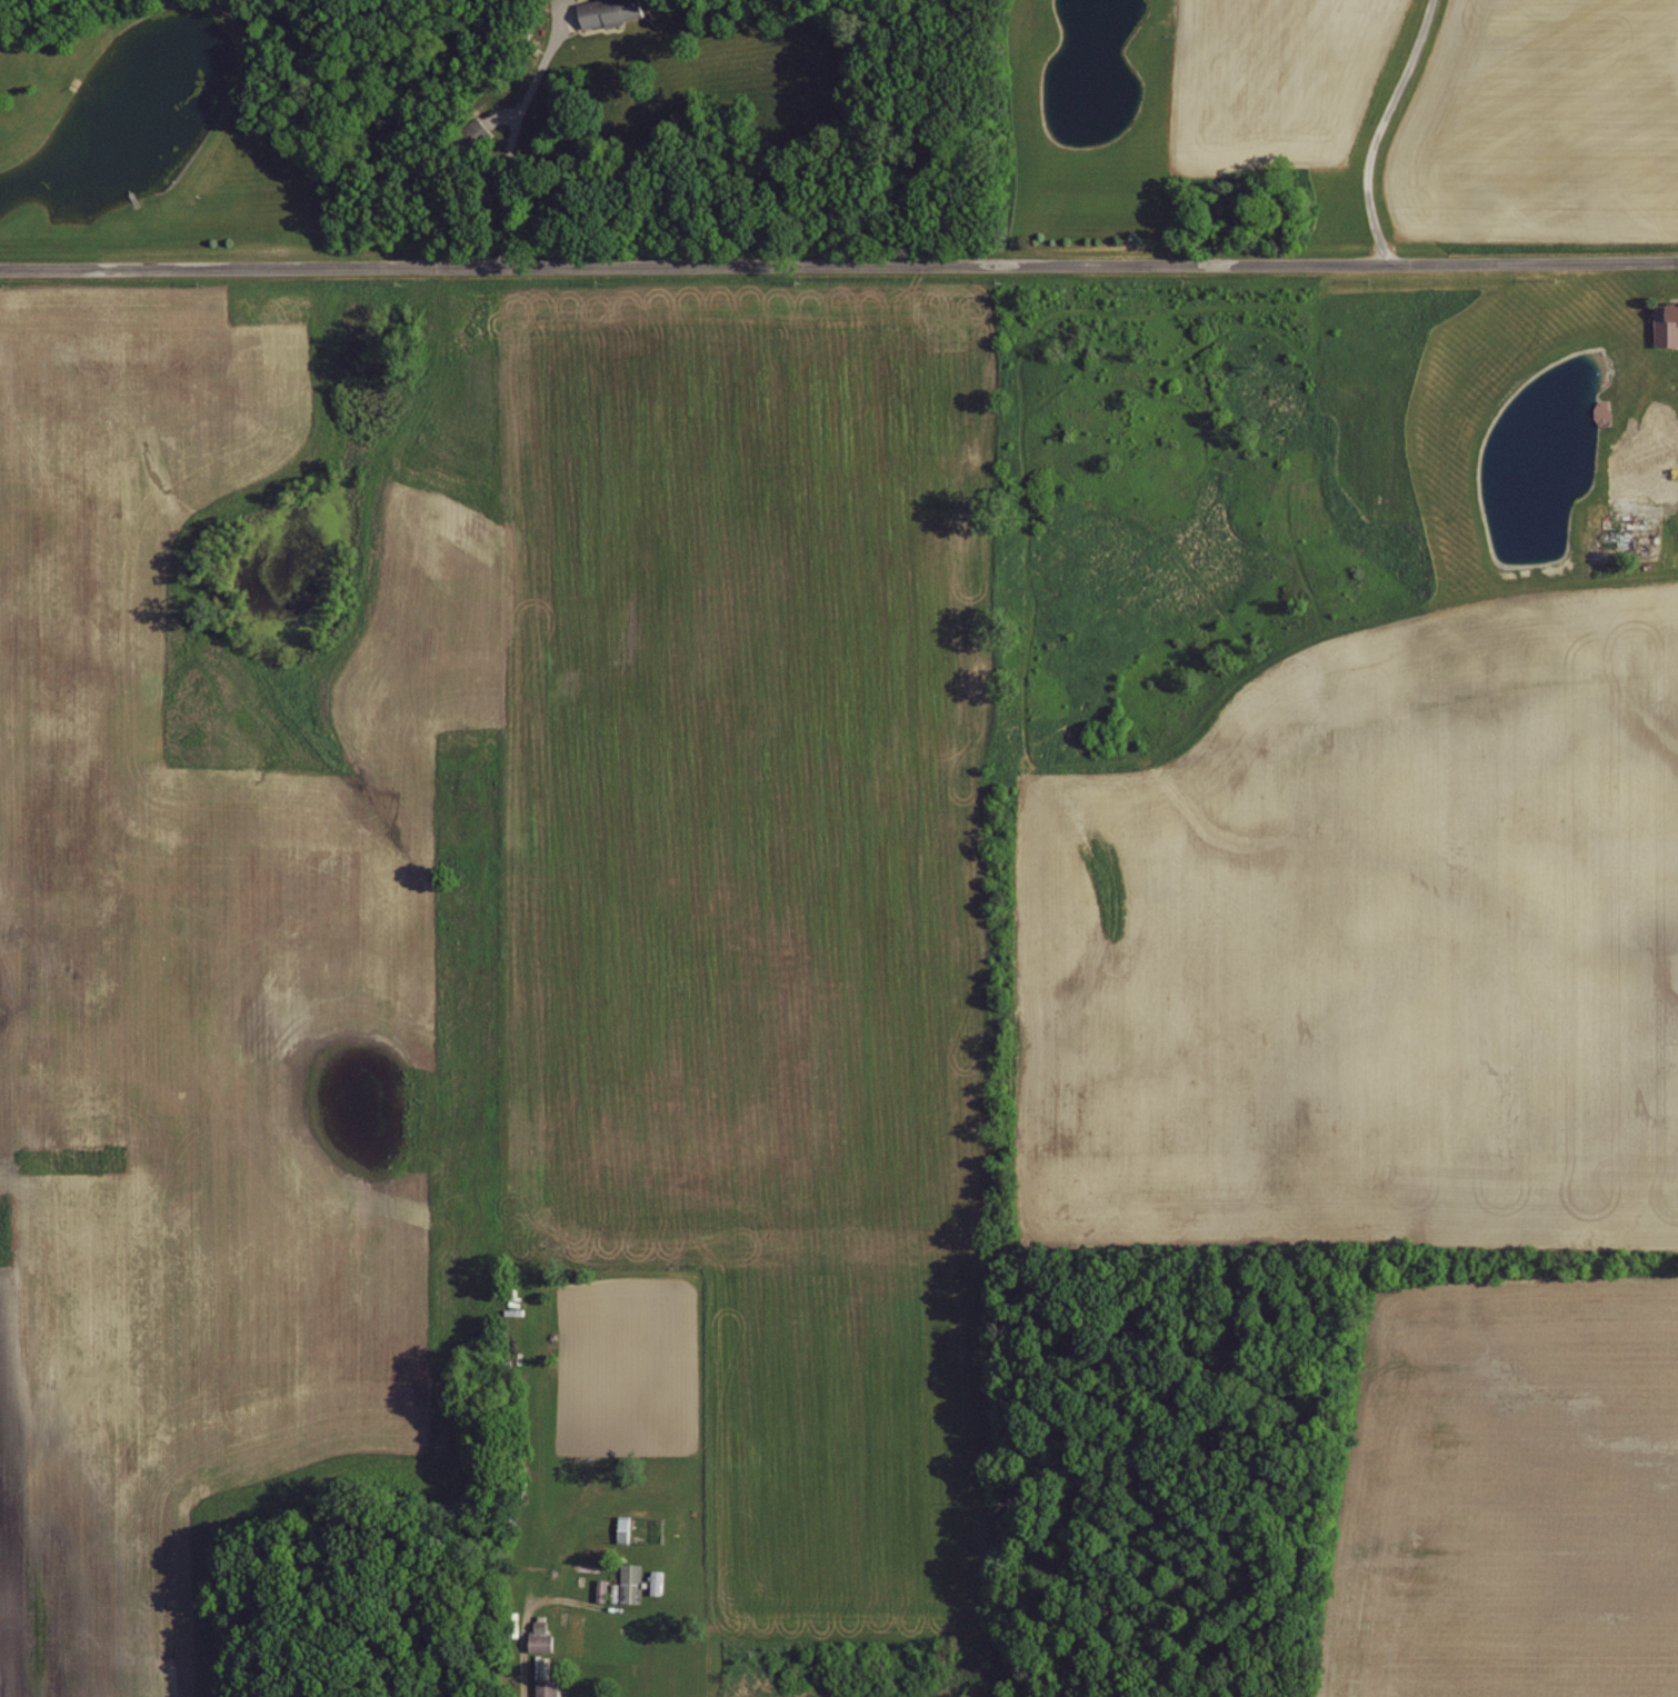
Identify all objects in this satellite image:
road: (838, 267)
crop: (759, 900)
crop: (214, 950)
crop: (1375, 950)
crop: (1506, 1484)
road: (527, 1608)

